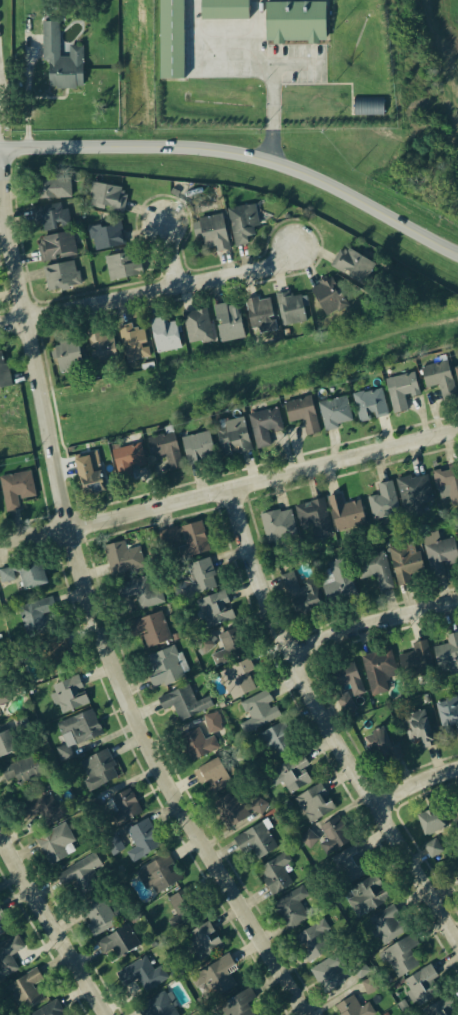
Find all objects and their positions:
building: (223, 9)
building: (293, 19)
road: (258, 24)
road: (192, 37)
building: (170, 38)
road: (236, 41)
building: (63, 52)
road: (439, 58)
parking lot: (316, 63)
road: (271, 97)
building: (368, 104)
road: (240, 153)
building: (51, 186)
building: (106, 196)
building: (54, 215)
building: (241, 221)
building: (213, 230)
building: (104, 233)
building: (58, 244)
road: (176, 255)
building: (350, 262)
building: (122, 266)
building: (60, 274)
road: (147, 292)
building: (327, 294)
building: (289, 305)
building: (259, 314)
building: (228, 320)
building: (196, 325)
building: (164, 334)
building: (132, 342)
building: (101, 346)
building: (67, 356)
road: (252, 363)
building: (456, 371)
building: (3, 372)
building: (438, 375)
building: (401, 385)
building: (370, 403)
building: (335, 410)
building: (302, 412)
building: (263, 424)
building: (231, 435)
building: (198, 443)
building: (166, 450)
building: (126, 456)
building: (85, 471)
building: (448, 482)
road: (229, 487)
building: (15, 488)
building: (415, 491)
building: (382, 499)
building: (346, 511)
building: (314, 515)
building: (277, 523)
building: (457, 533)
building: (187, 537)
building: (439, 555)
building: (121, 556)
building: (406, 562)
building: (374, 566)
building: (5, 573)
building: (30, 574)
building: (199, 576)
building: (337, 580)
building: (139, 590)
building: (299, 592)
building: (214, 608)
building: (39, 617)
road: (375, 622)
road: (102, 627)
building: (150, 627)
building: (230, 643)
building: (52, 655)
building: (446, 655)
building: (416, 660)
building: (166, 665)
building: (378, 669)
building: (1, 672)
building: (236, 678)
building: (346, 687)
building: (4, 693)
building: (68, 693)
building: (182, 700)
building: (258, 709)
building: (448, 710)
building: (0, 713)
road: (329, 716)
building: (212, 722)
building: (78, 727)
building: (418, 728)
building: (14, 732)
building: (276, 739)
building: (198, 743)
building: (381, 746)
building: (99, 767)
building: (22, 769)
building: (292, 769)
building: (210, 773)
road: (418, 782)
building: (313, 801)
building: (257, 804)
building: (45, 806)
building: (117, 807)
building: (227, 808)
building: (454, 817)
building: (429, 818)
building: (334, 833)
building: (308, 837)
building: (141, 838)
building: (255, 839)
building: (111, 841)
building: (54, 842)
building: (431, 846)
building: (347, 862)
building: (275, 871)
building: (81, 872)
building: (158, 872)
building: (366, 894)
building: (183, 905)
building: (290, 907)
building: (116, 913)
building: (96, 915)
building: (134, 917)
road: (54, 919)
building: (3, 922)
building: (386, 923)
building: (118, 939)
building: (202, 939)
building: (311, 940)
building: (8, 951)
building: (399, 955)
building: (359, 966)
building: (143, 970)
building: (327, 971)
building: (211, 977)
building: (369, 984)
building: (421, 984)
building: (25, 989)
building: (237, 1002)
building: (156, 1004)
building: (351, 1006)
building: (440, 1007)
building: (48, 1008)

